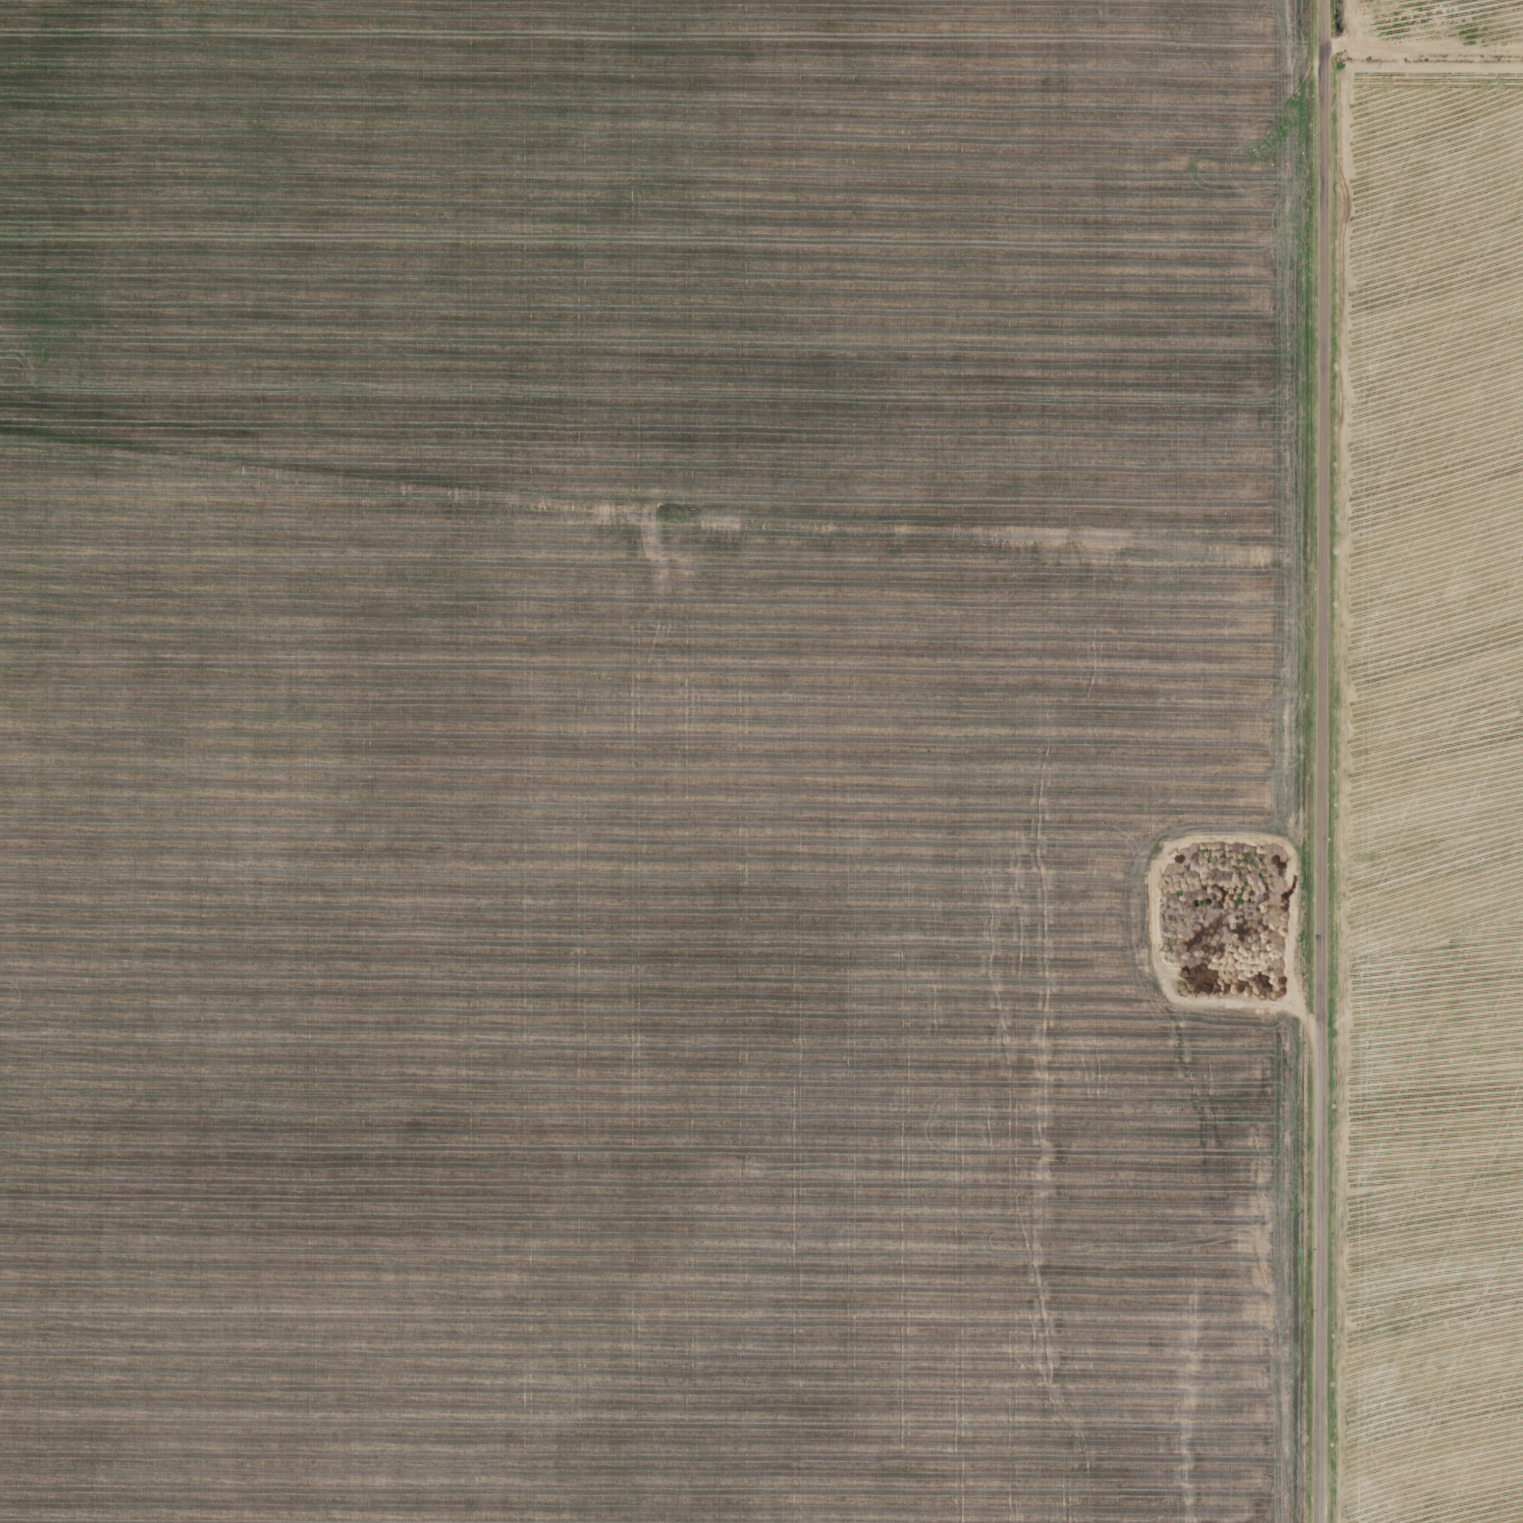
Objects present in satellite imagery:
road: (1304, 761)

